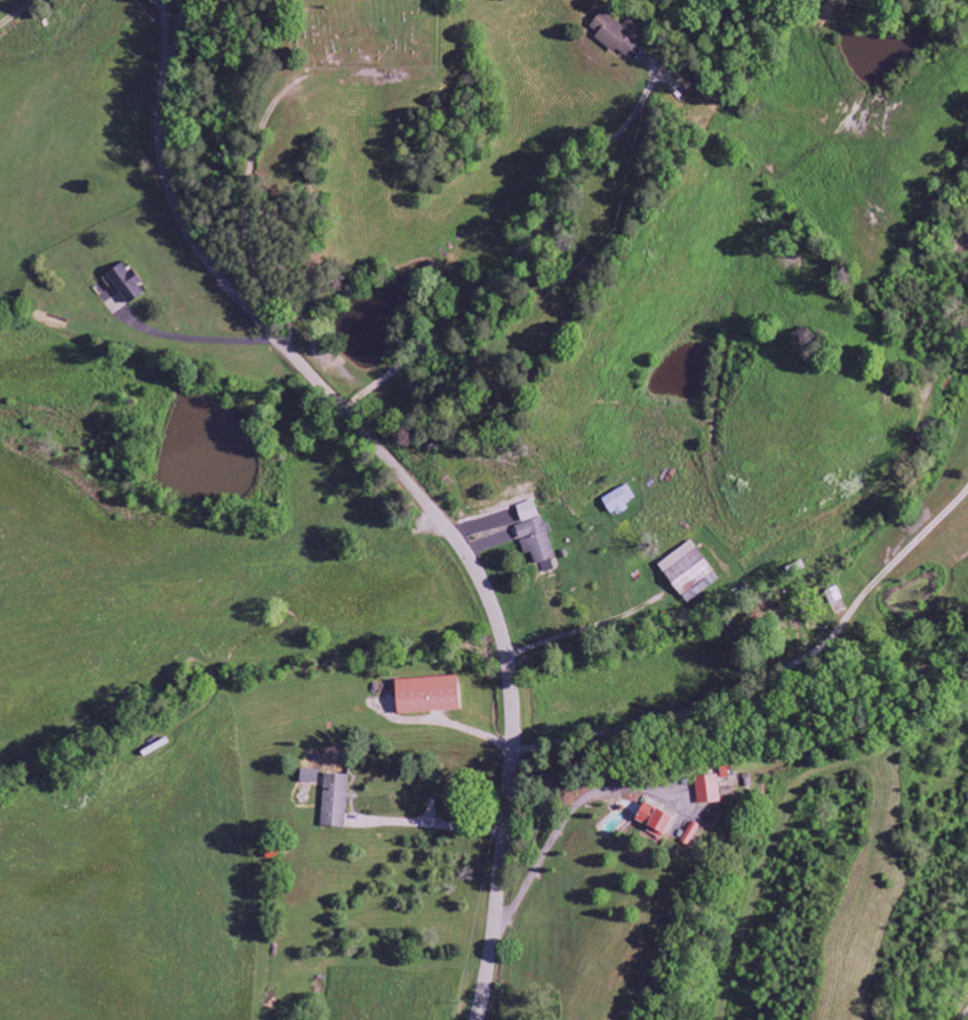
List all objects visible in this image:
road: (160, 1)
road: (165, 31)
park: (357, 32)
building: (617, 33)
road: (518, 252)
road: (218, 273)
building: (124, 283)
building: (619, 501)
building: (527, 511)
building: (536, 540)
building: (688, 572)
building: (833, 596)
road: (578, 628)
road: (772, 677)
building: (426, 695)
road: (510, 743)
building: (726, 792)
building: (707, 793)
building: (335, 801)
building: (653, 821)
building: (689, 833)
road: (967, 1019)

